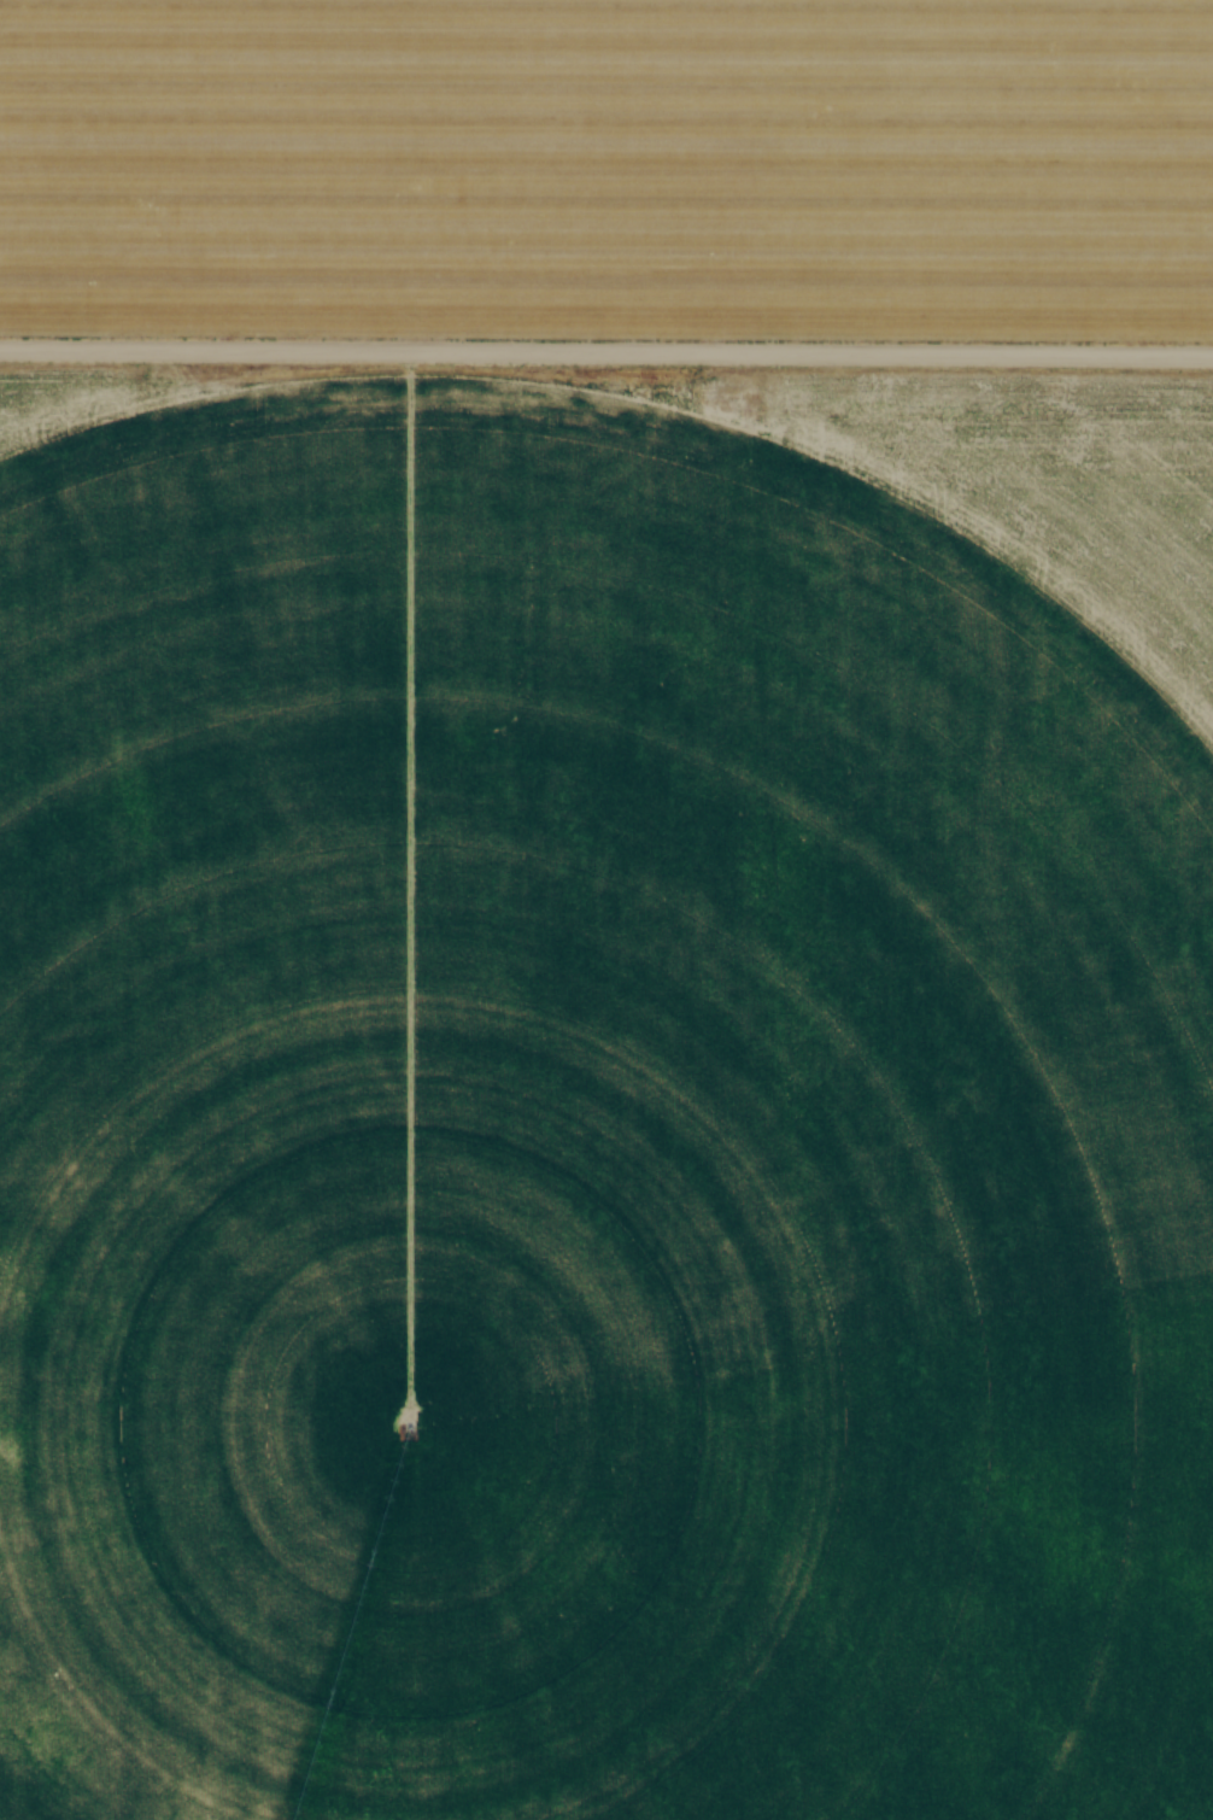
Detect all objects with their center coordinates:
crop: (609, 168)
road: (606, 351)
crop: (588, 1123)

